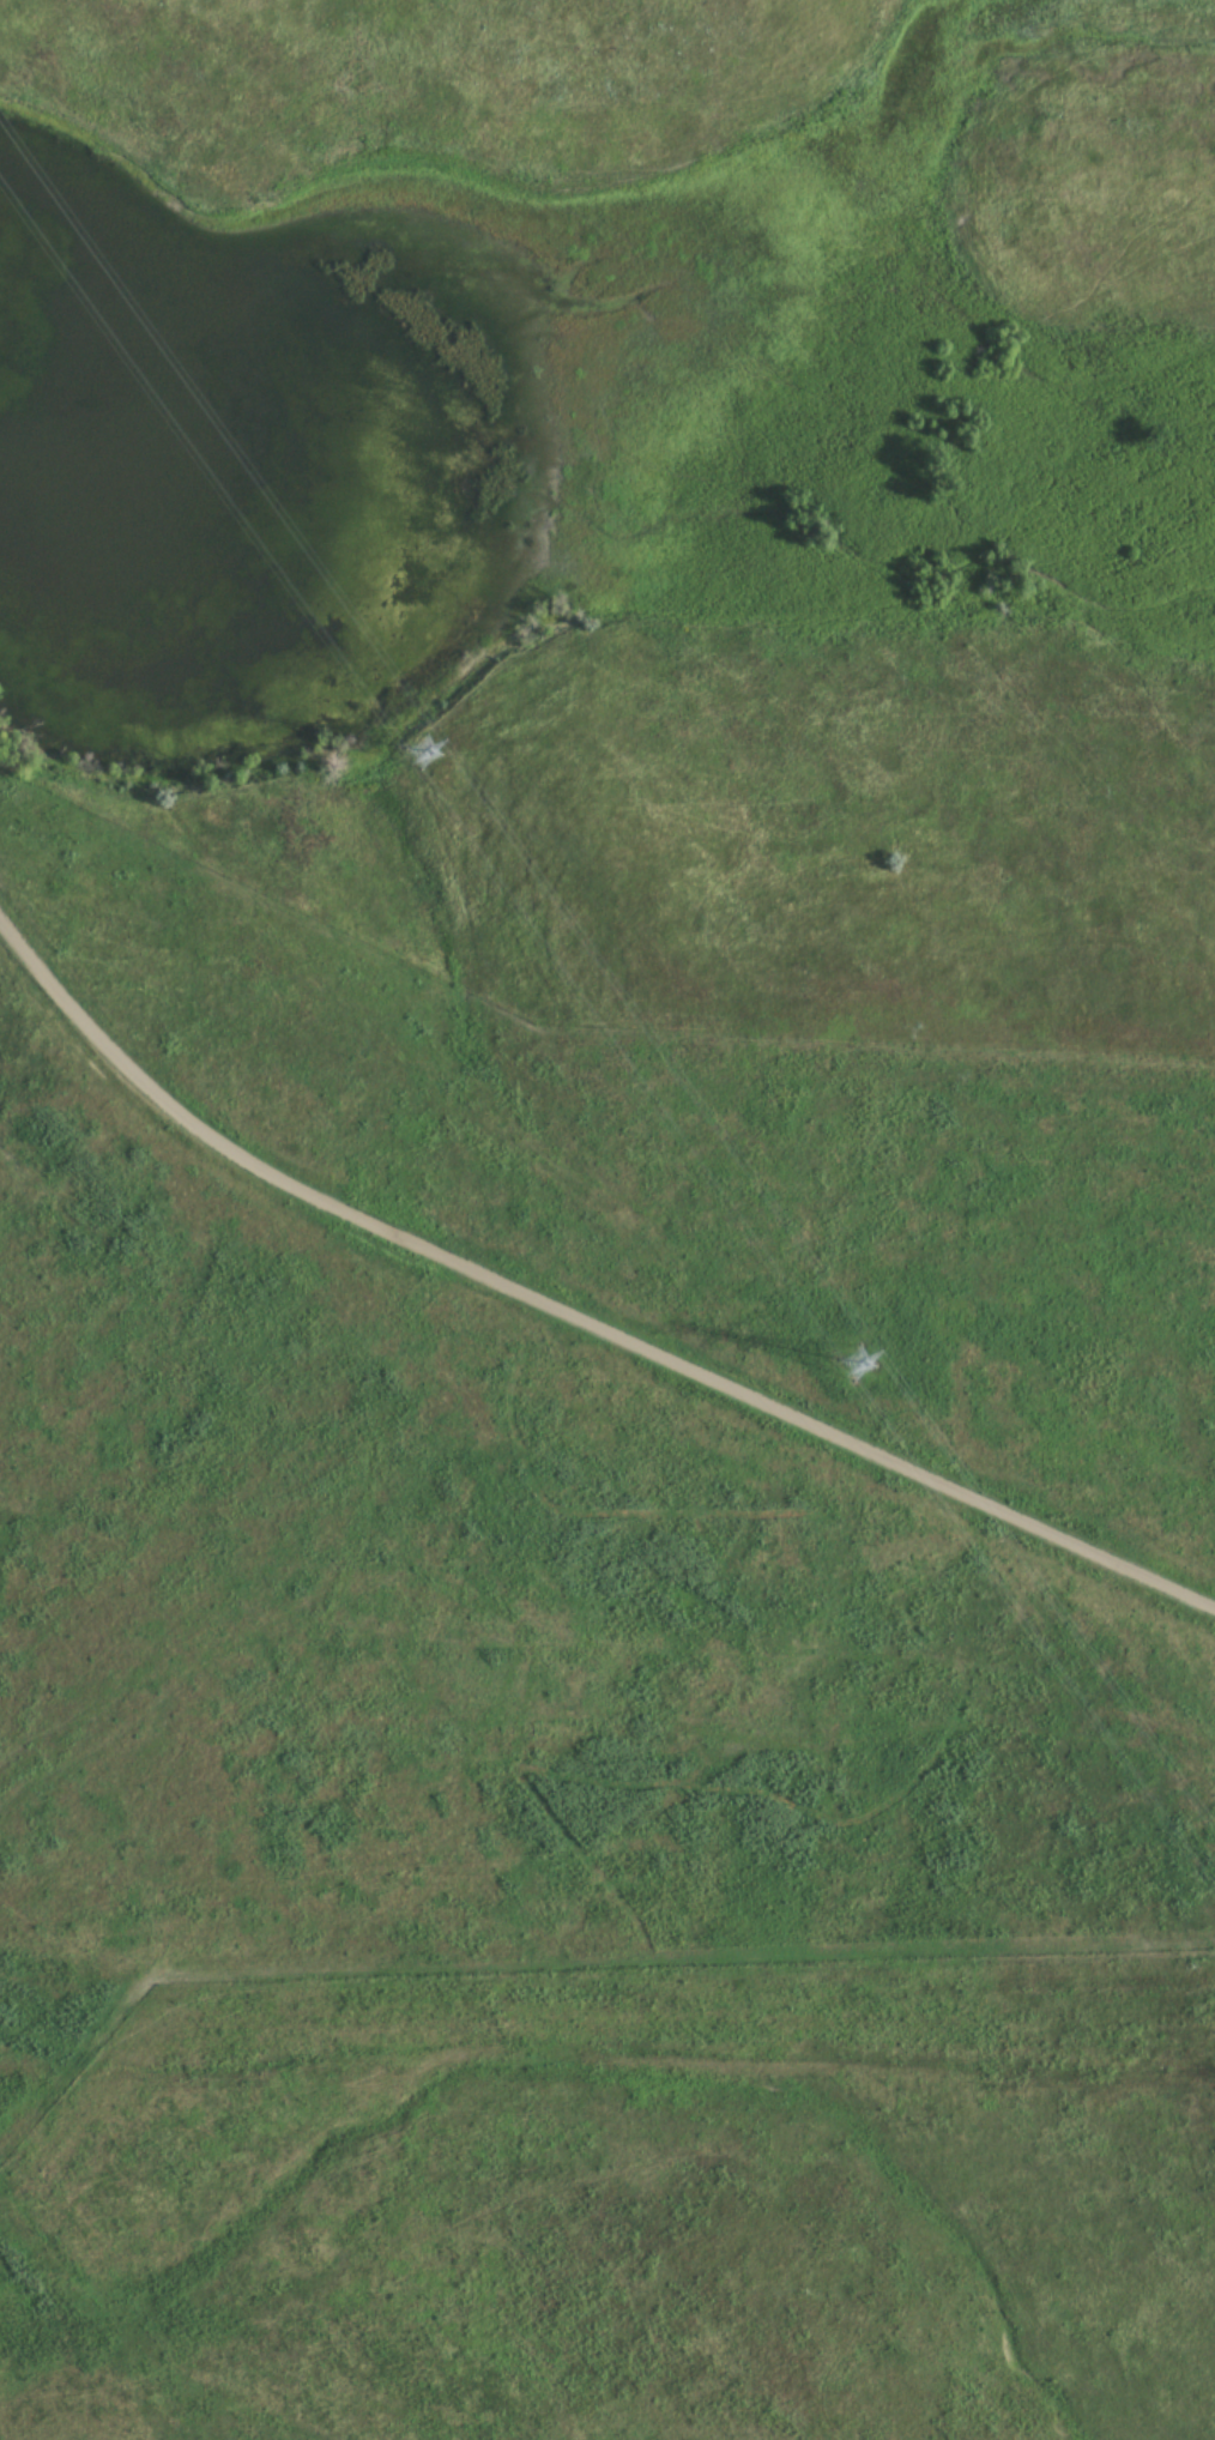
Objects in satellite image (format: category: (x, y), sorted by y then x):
power tower: (417, 753)
road: (570, 1315)
power tower: (851, 1364)

